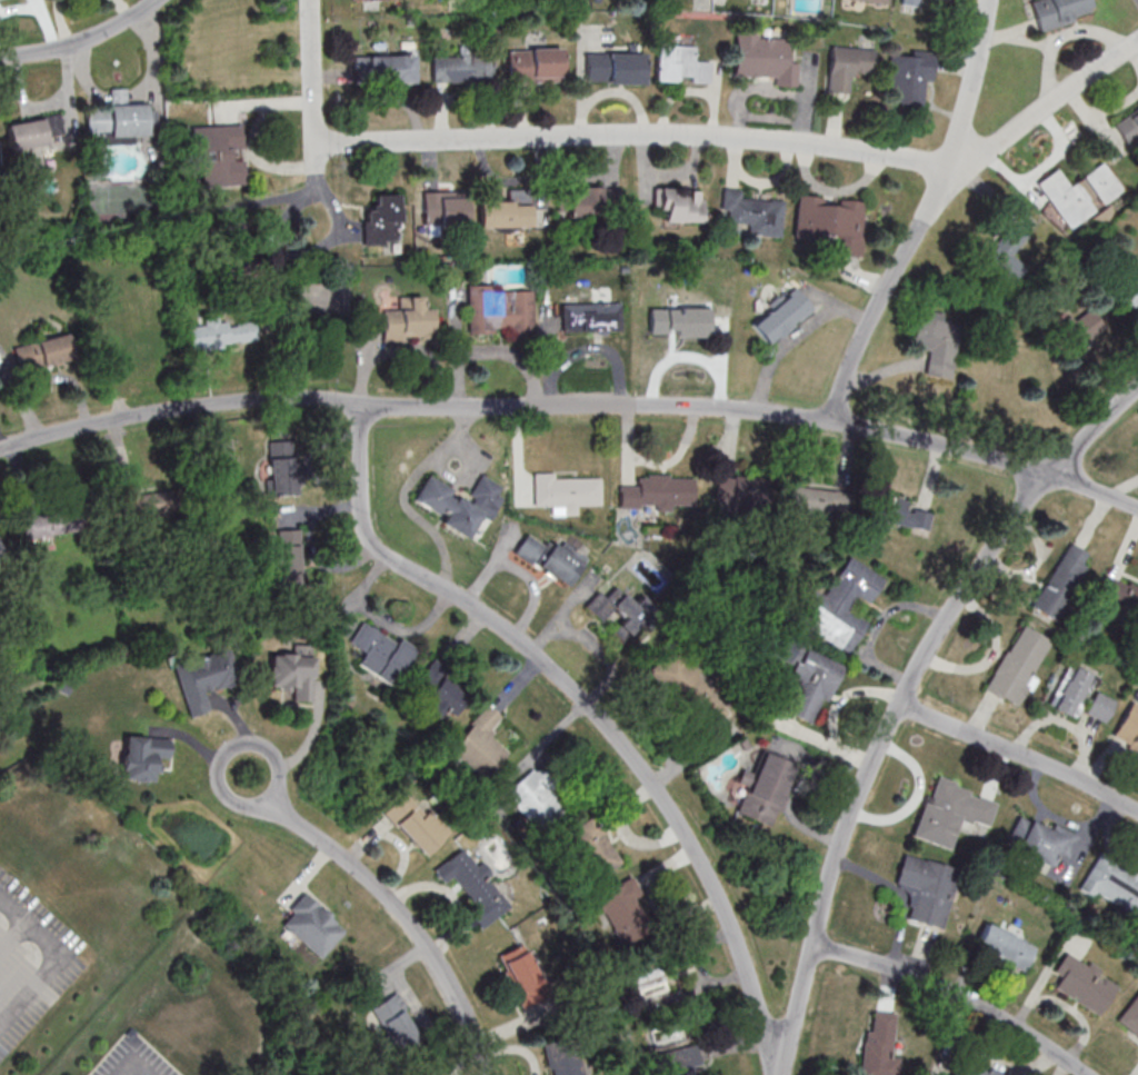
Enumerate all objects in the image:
building: (375, 0)
building: (947, 0)
building: (876, 1)
building: (910, 2)
building: (1058, 11)
road: (82, 40)
building: (765, 59)
building: (680, 63)
building: (535, 64)
building: (848, 67)
building: (615, 68)
building: (385, 69)
building: (461, 69)
road: (312, 71)
building: (909, 78)
building: (121, 120)
building: (1128, 127)
building: (34, 131)
road: (746, 139)
building: (220, 155)
road: (318, 158)
building: (1079, 193)
building: (592, 201)
building: (680, 205)
building: (448, 208)
building: (506, 212)
building: (753, 213)
road: (925, 216)
building: (382, 219)
building: (832, 222)
building: (1007, 249)
building: (1126, 295)
building: (499, 309)
building: (781, 316)
building: (590, 318)
building: (408, 320)
building: (678, 321)
building: (1082, 328)
building: (219, 332)
building: (936, 342)
building: (41, 354)
road: (708, 409)
road: (178, 411)
road: (1094, 430)
building: (284, 467)
road: (1122, 488)
building: (740, 491)
road: (1094, 491)
building: (565, 492)
building: (659, 492)
building: (813, 500)
building: (153, 505)
building: (450, 505)
building: (898, 512)
building: (44, 525)
building: (0, 558)
building: (549, 558)
building: (286, 559)
building: (1060, 581)
building: (1118, 593)
building: (840, 606)
building: (621, 609)
building: (381, 654)
building: (1015, 667)
building: (293, 671)
building: (203, 678)
building: (810, 686)
building: (688, 690)
building: (1071, 690)
building: (437, 691)
road: (905, 698)
building: (1099, 706)
road: (589, 707)
building: (1128, 727)
road: (312, 731)
building: (479, 745)
road: (268, 748)
building: (142, 756)
road: (1021, 756)
building: (765, 788)
building: (535, 798)
building: (947, 814)
building: (413, 824)
building: (1039, 842)
building: (593, 847)
building: (1111, 885)
building: (475, 887)
building: (926, 889)
building: (622, 912)
road: (402, 917)
building: (311, 925)
building: (1004, 946)
road: (58, 963)
building: (522, 975)
building: (1082, 985)
building: (650, 988)
road: (957, 995)
road: (796, 1012)
building: (1130, 1016)
building: (396, 1022)
building: (878, 1047)
building: (565, 1058)
building: (679, 1059)
building: (968, 1069)
road: (137, 1073)

